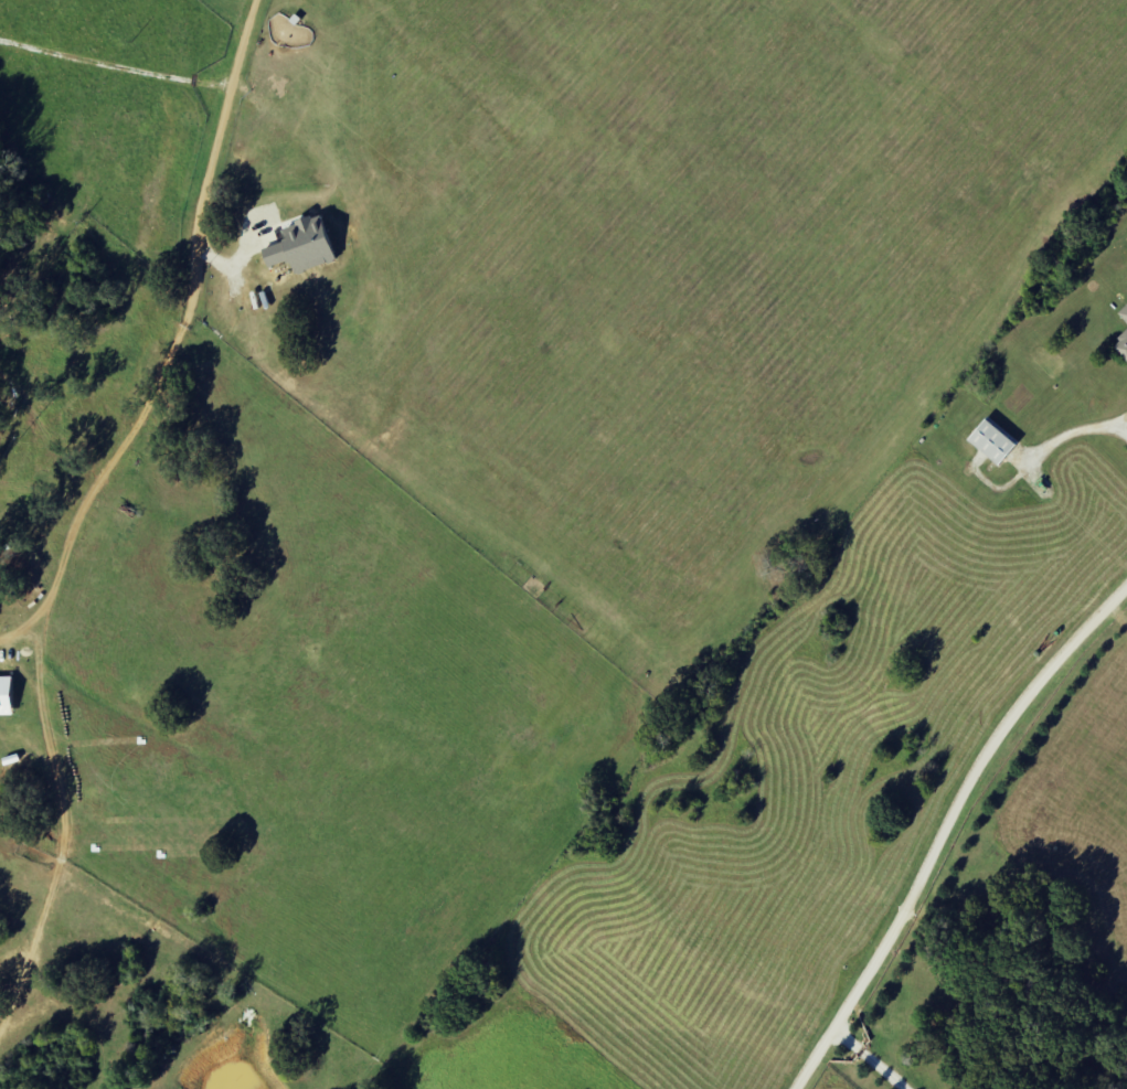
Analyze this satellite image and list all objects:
building: (302, 247)
building: (1124, 314)
building: (1121, 346)
building: (993, 442)
building: (7, 697)
road: (946, 828)

